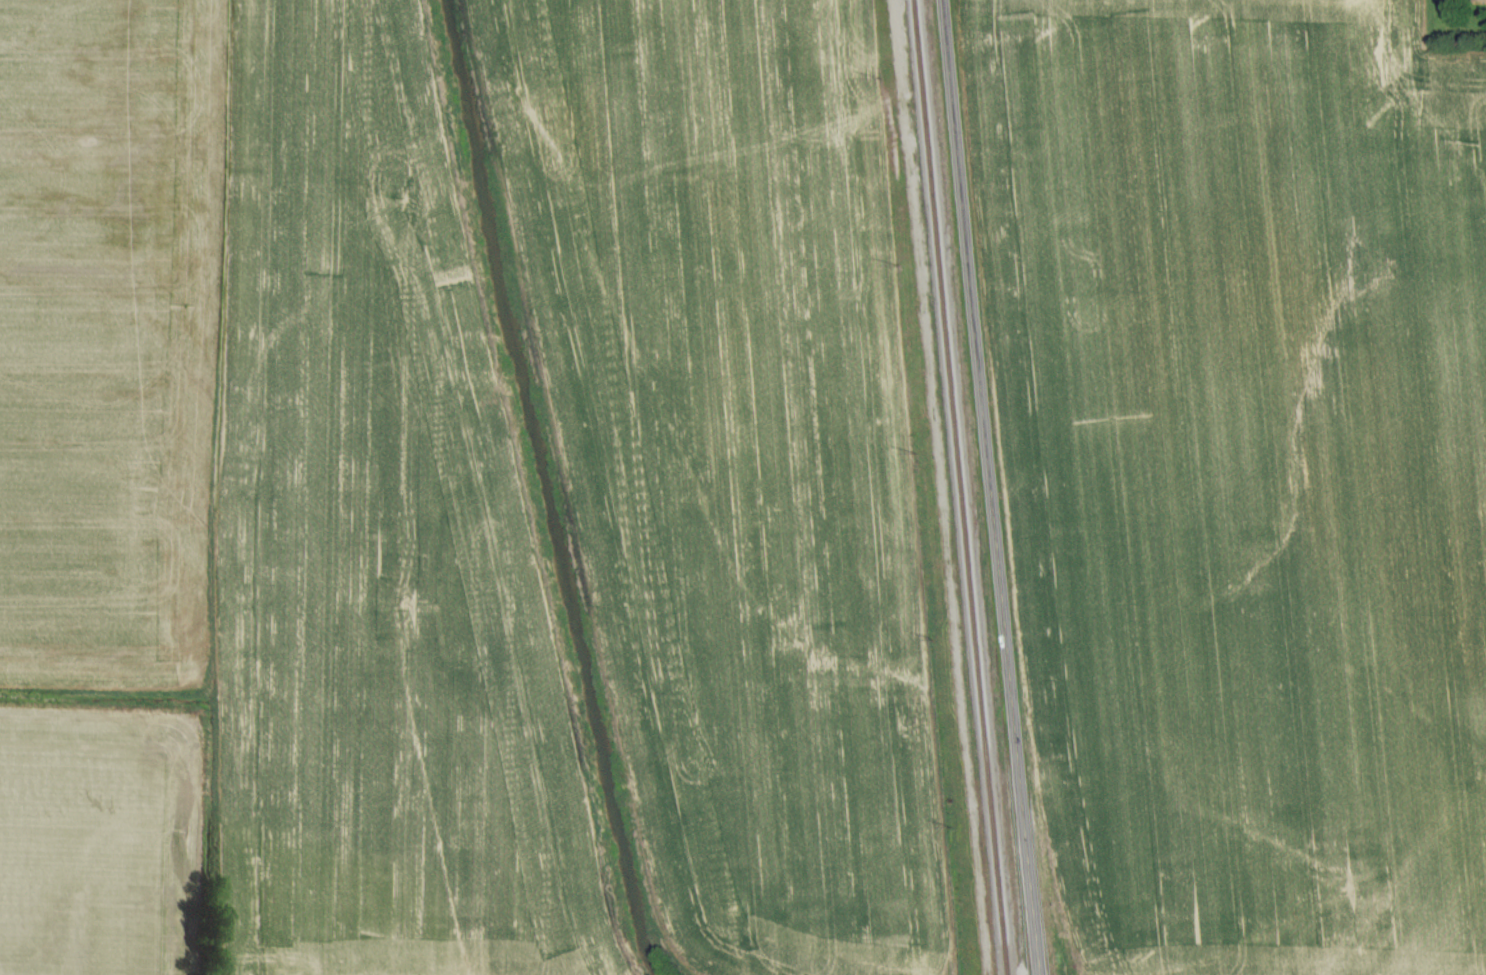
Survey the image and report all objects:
building: (1479, 0)
railway: (961, 487)
road: (995, 487)

